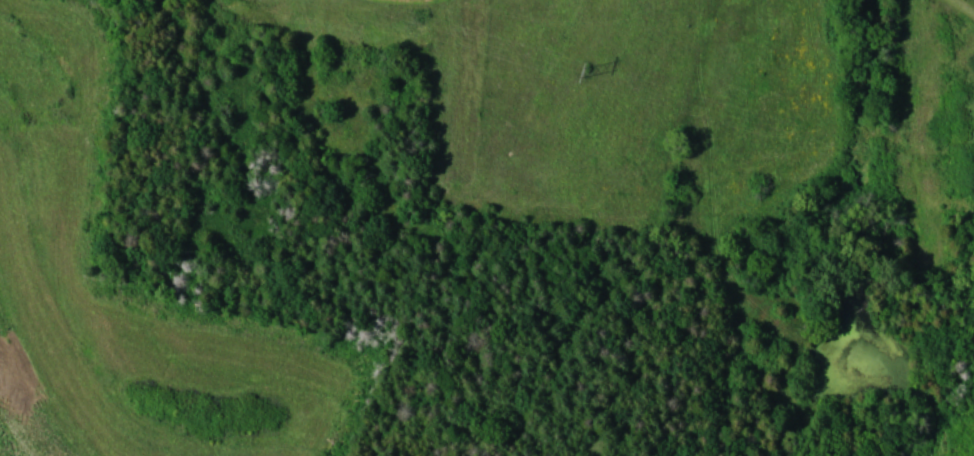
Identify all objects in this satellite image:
power tower: (583, 72)

